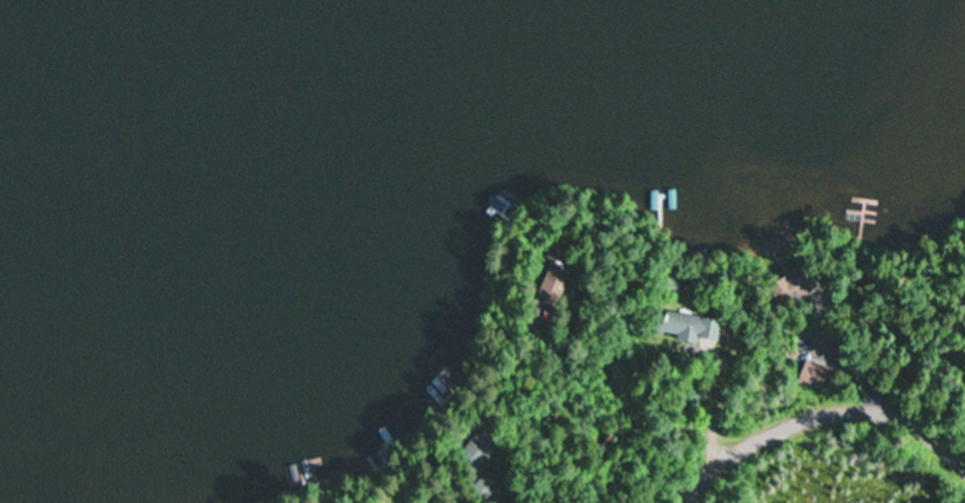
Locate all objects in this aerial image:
building: (552, 283)
building: (793, 286)
building: (687, 326)
building: (815, 372)
road: (821, 416)
building: (479, 446)

